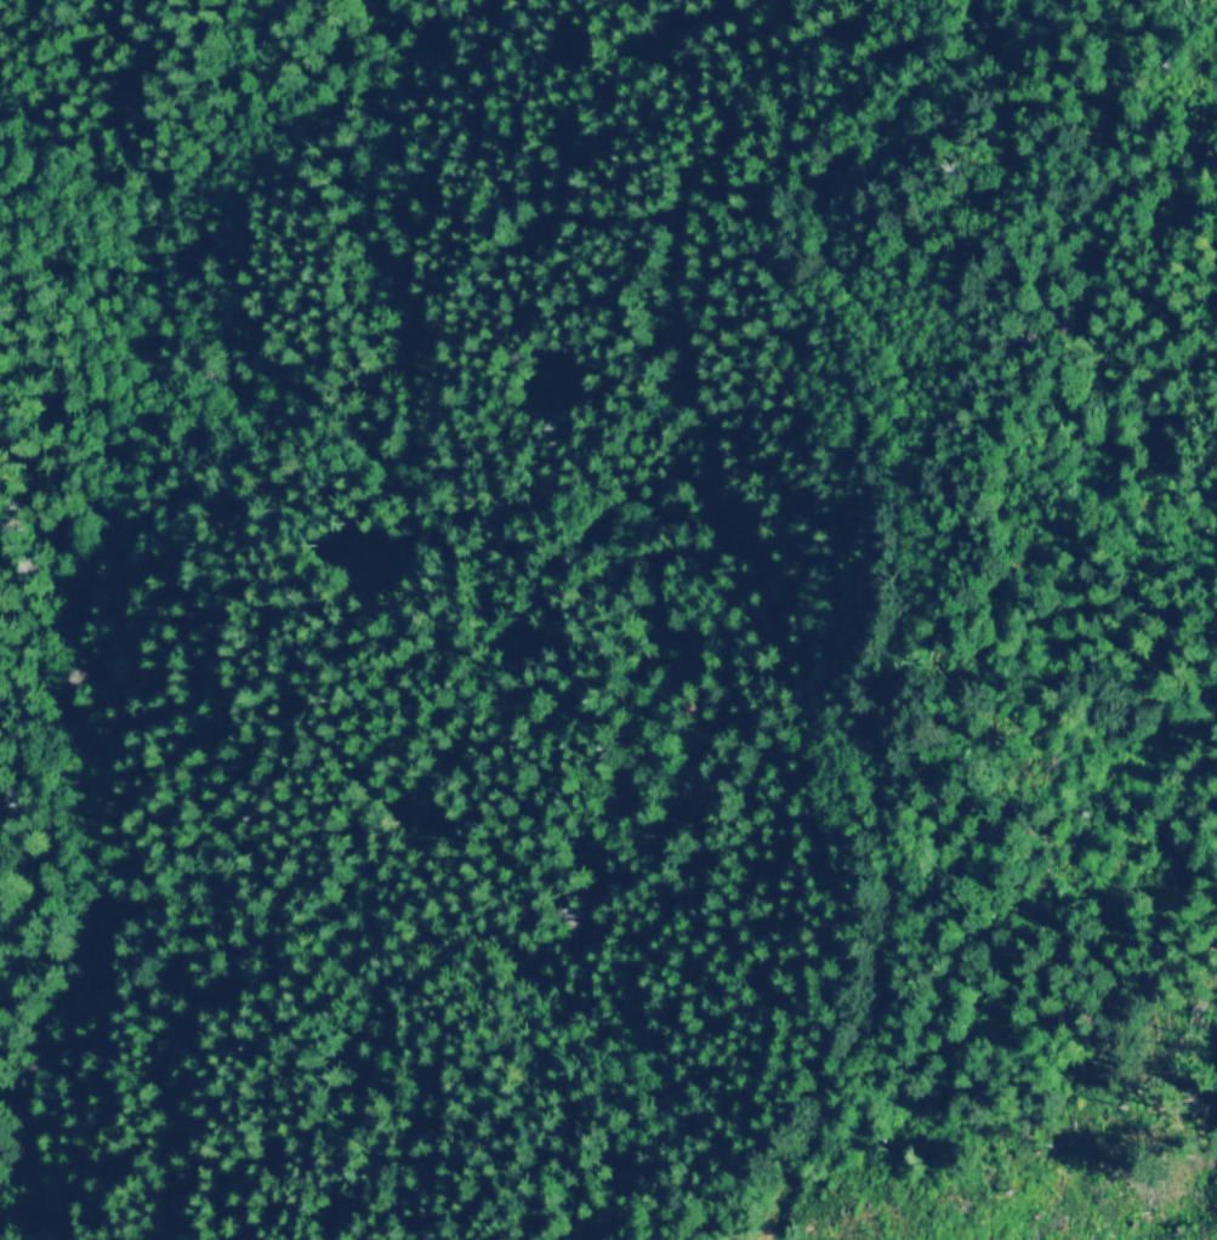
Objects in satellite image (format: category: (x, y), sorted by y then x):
road: (92, 142)
road: (19, 216)
road: (1062, 266)
park: (612, 568)
road: (911, 585)

